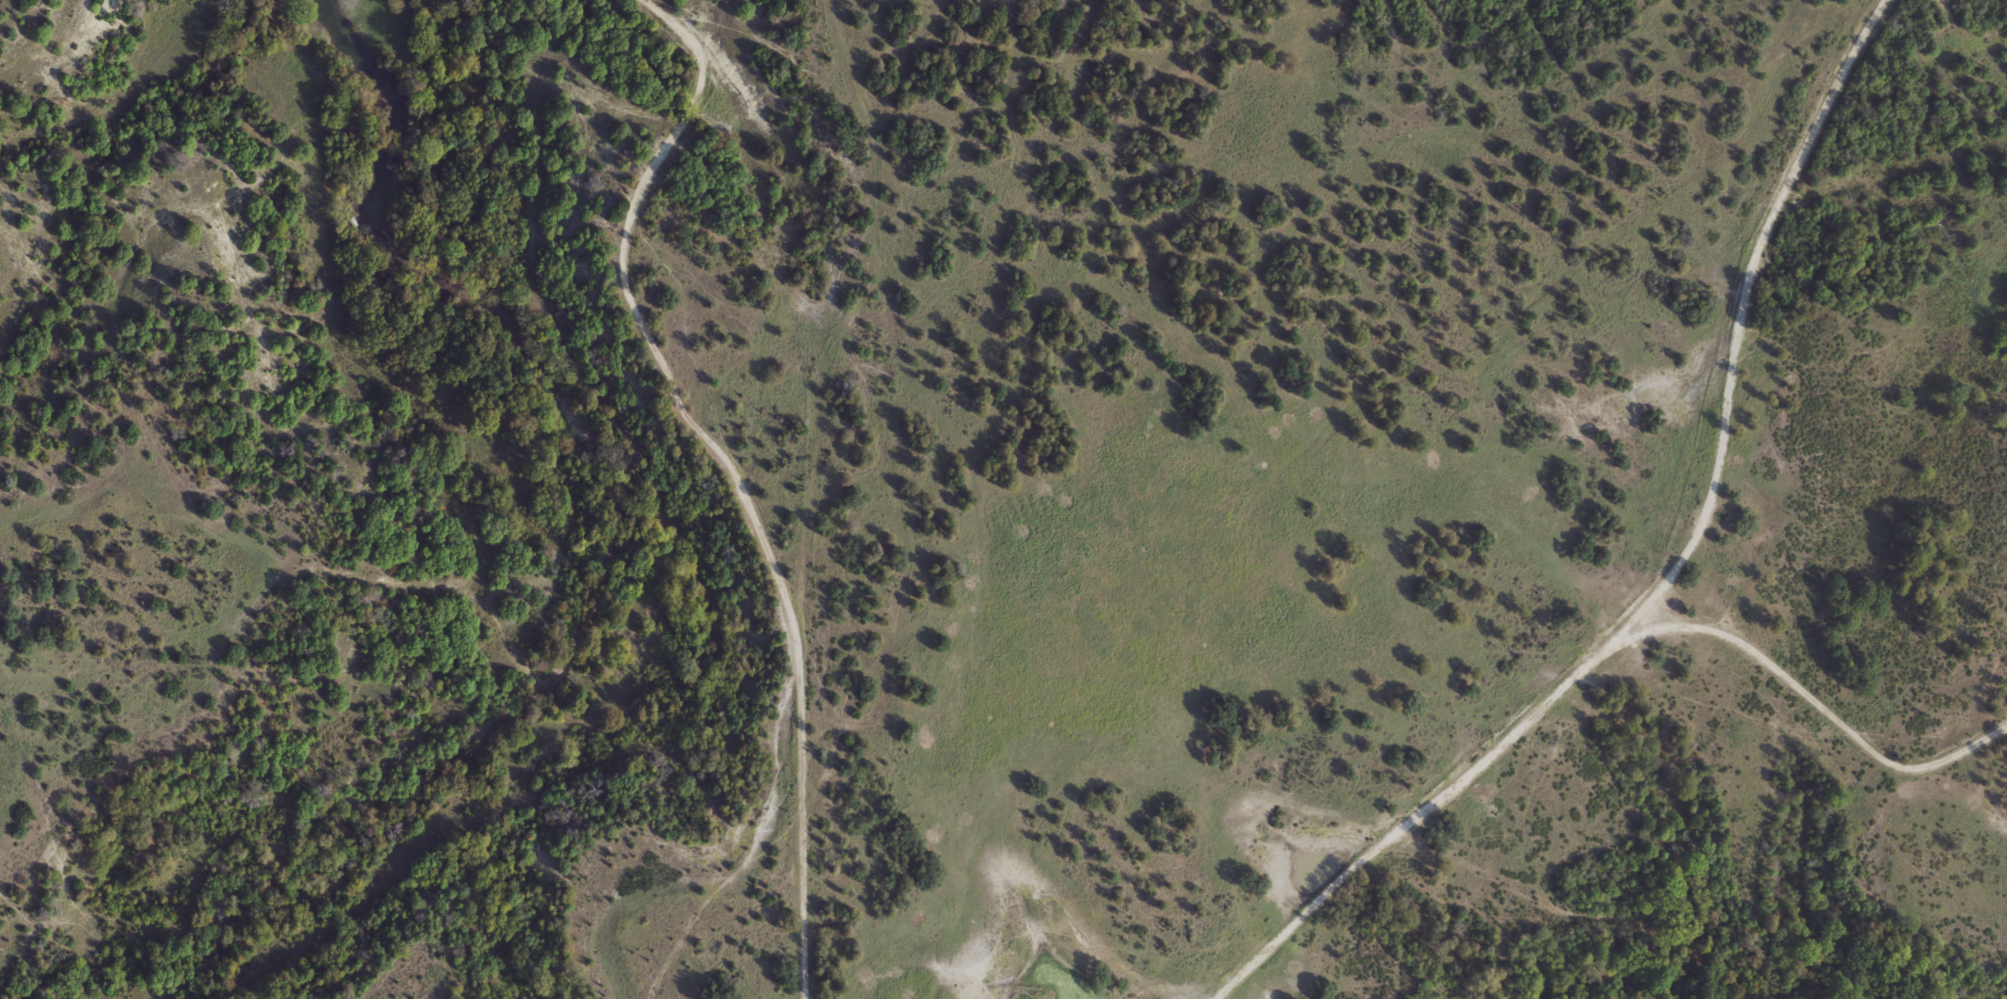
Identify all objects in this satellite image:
road: (727, 480)
road: (1660, 573)
road: (1821, 706)

